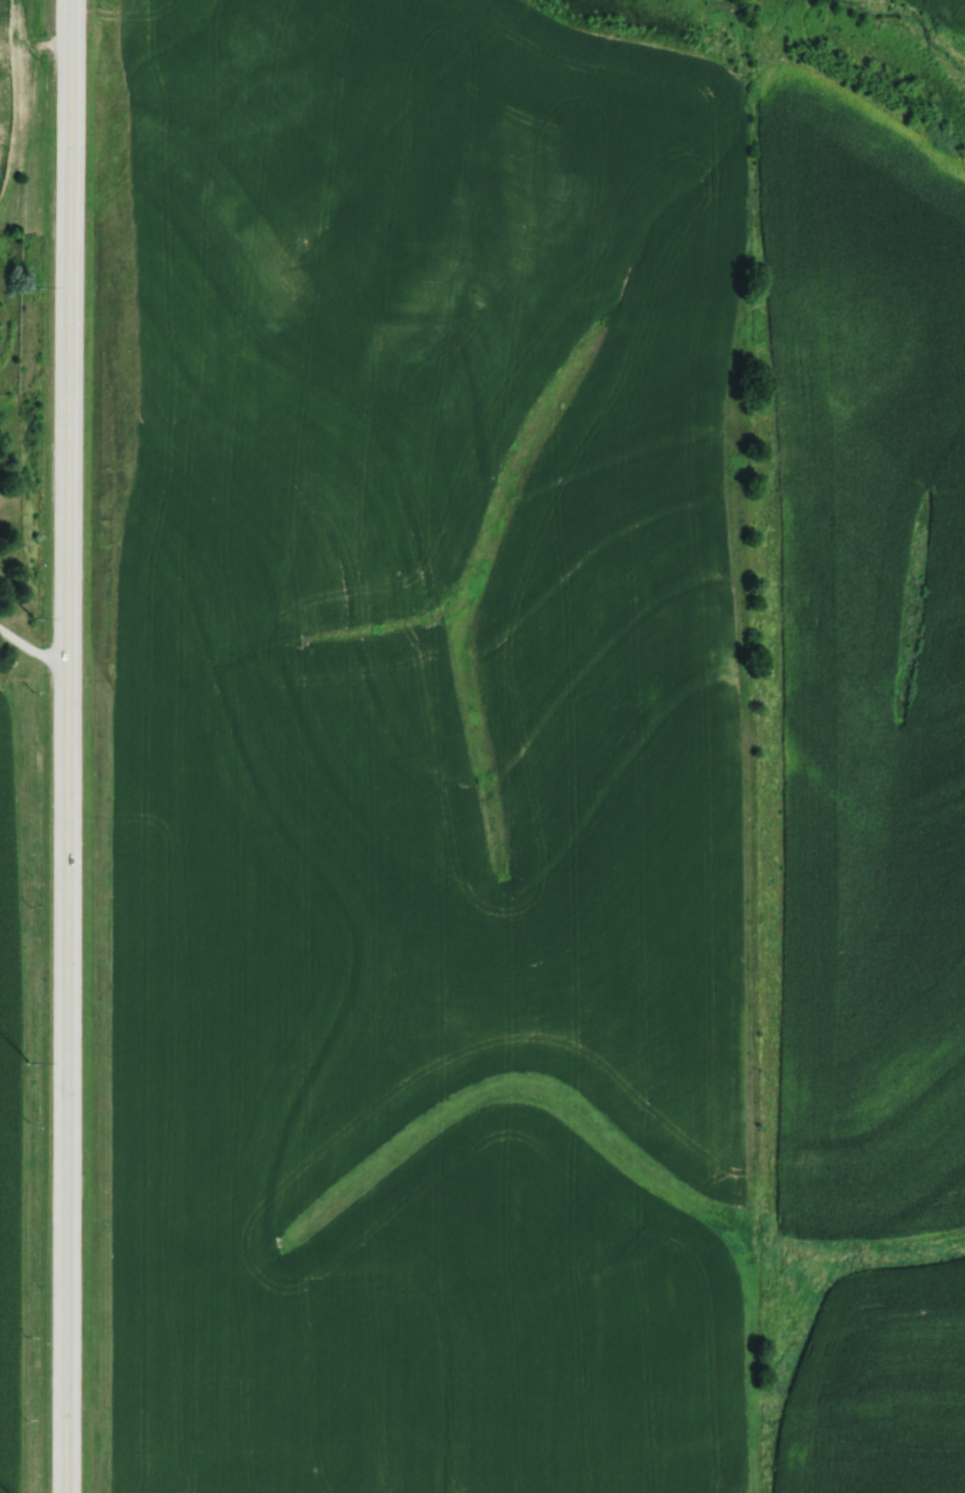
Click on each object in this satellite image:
power tower: (34, 285)
power tower: (31, 617)
road: (30, 648)
road: (65, 746)
power tower: (27, 1061)

